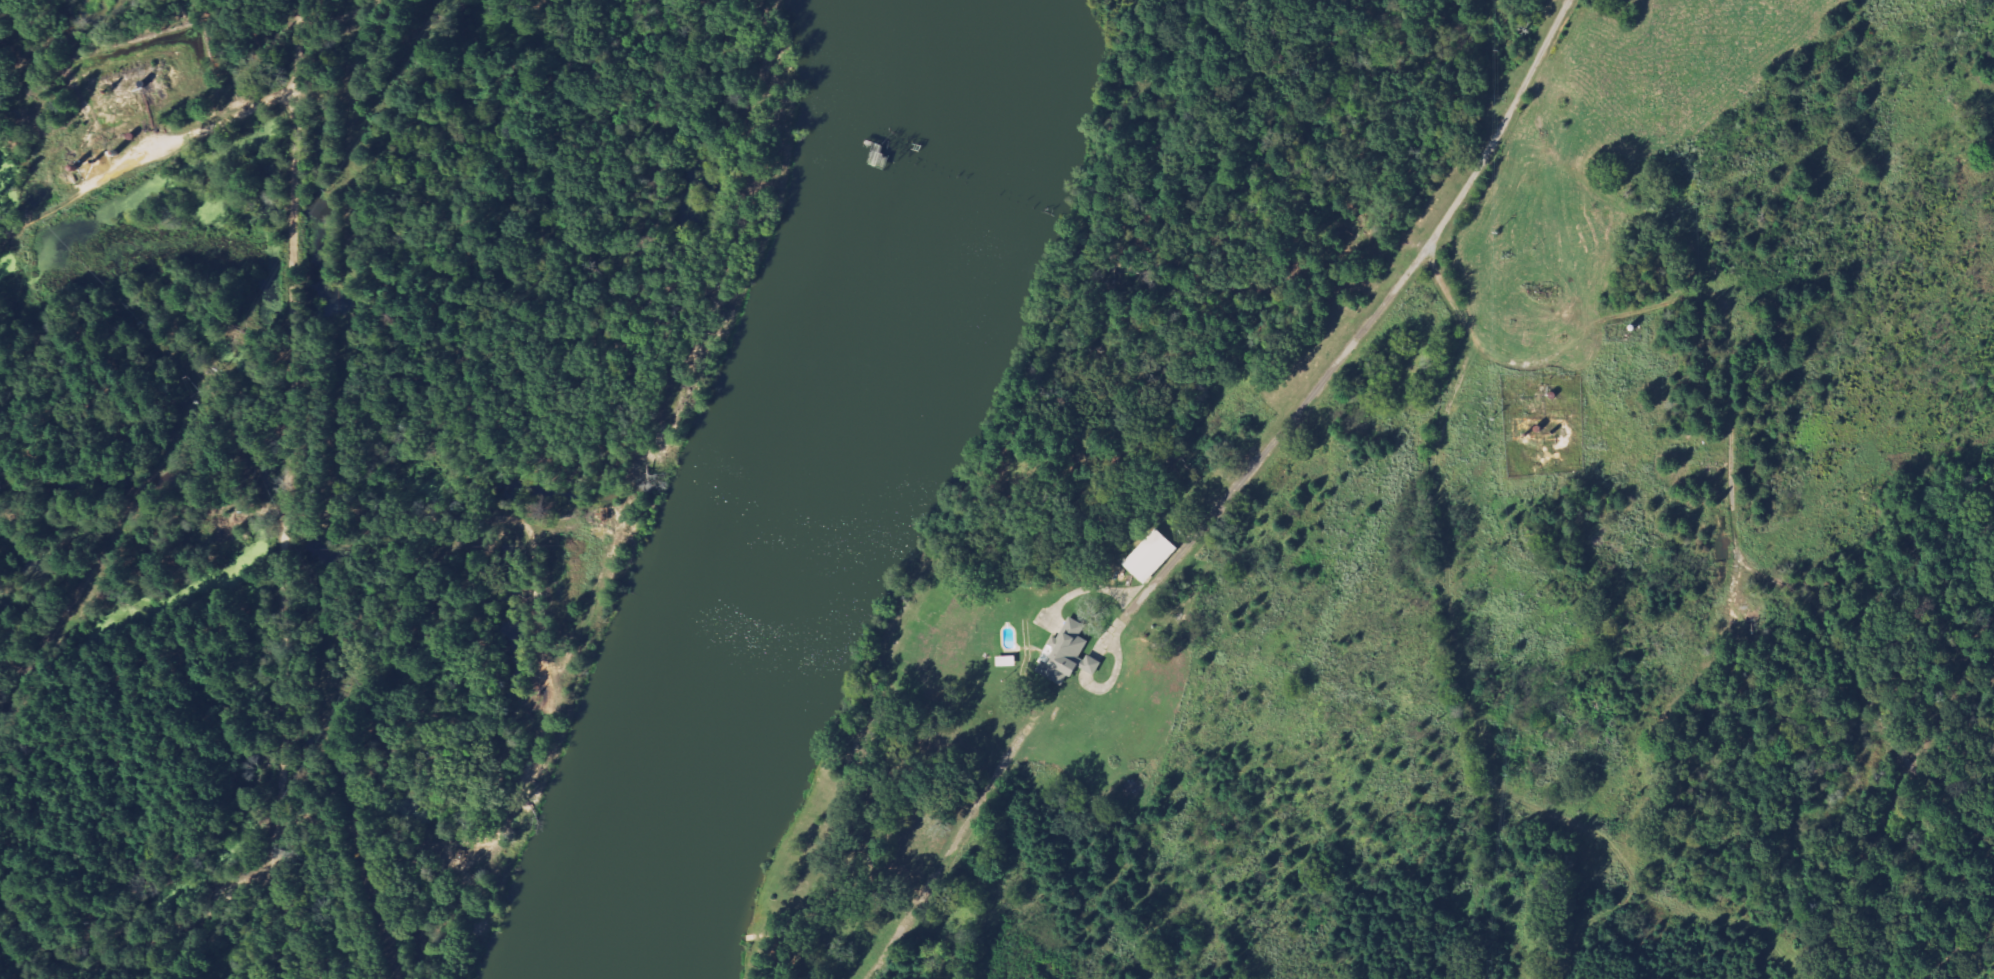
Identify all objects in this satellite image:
road: (147, 162)
road: (1371, 319)
road: (1734, 425)
road: (289, 494)
road: (269, 507)
building: (1154, 556)
road: (596, 618)
building: (1063, 652)
road: (360, 825)
road: (959, 840)
road: (181, 922)
road: (22, 957)
road: (1959, 957)

